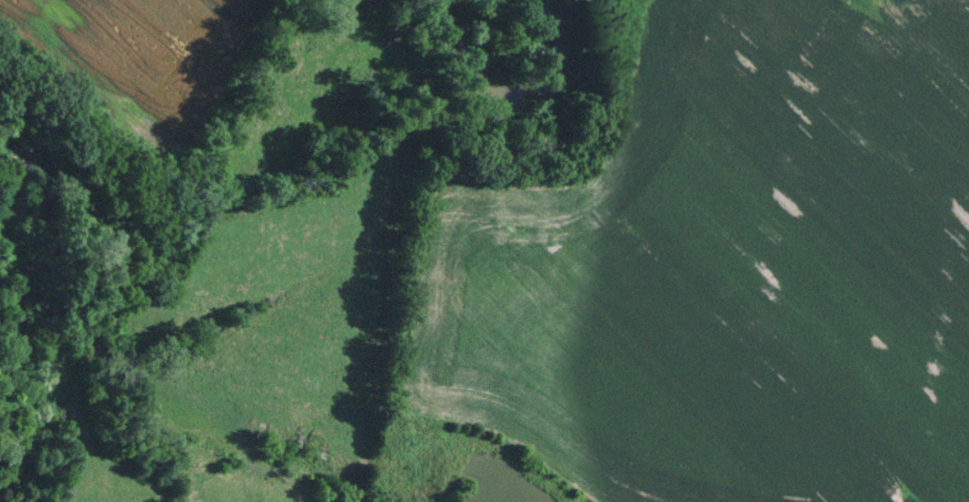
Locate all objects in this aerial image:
river: (512, 78)
river: (39, 260)

